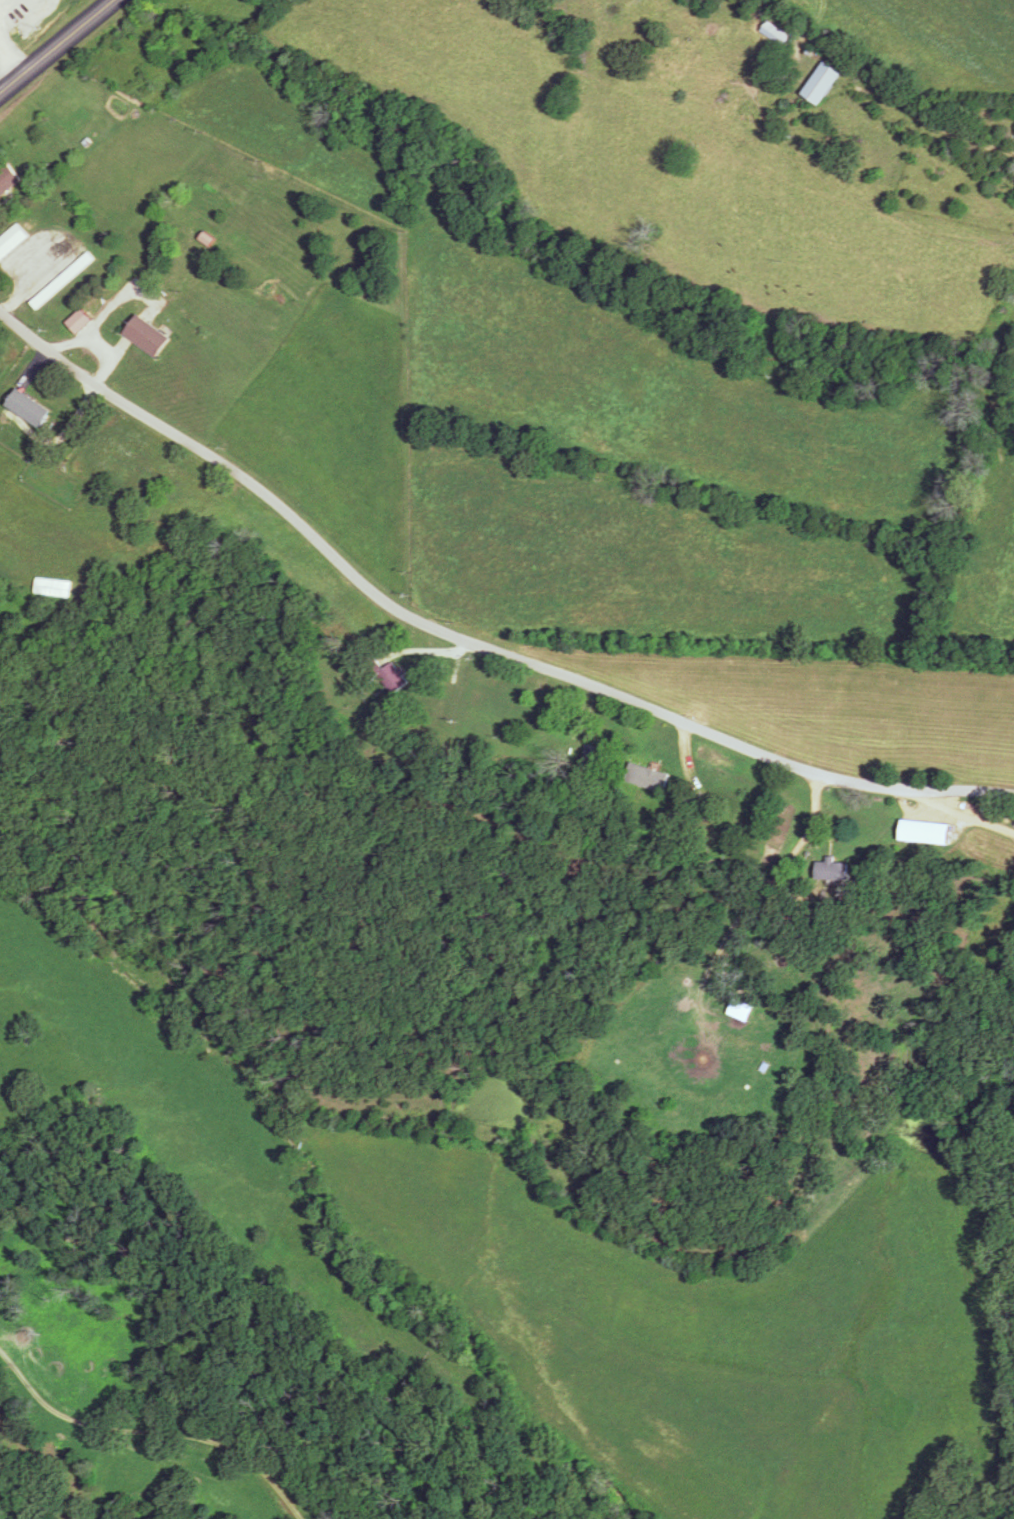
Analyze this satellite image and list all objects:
building: (774, 34)
road: (55, 45)
road: (7, 62)
building: (821, 83)
building: (8, 180)
building: (12, 240)
building: (59, 284)
building: (80, 322)
building: (148, 337)
building: (29, 408)
building: (53, 587)
road: (385, 597)
building: (386, 675)
building: (489, 719)
building: (594, 755)
building: (642, 774)
road: (918, 798)
building: (725, 821)
building: (925, 831)
building: (833, 869)
building: (741, 1010)

